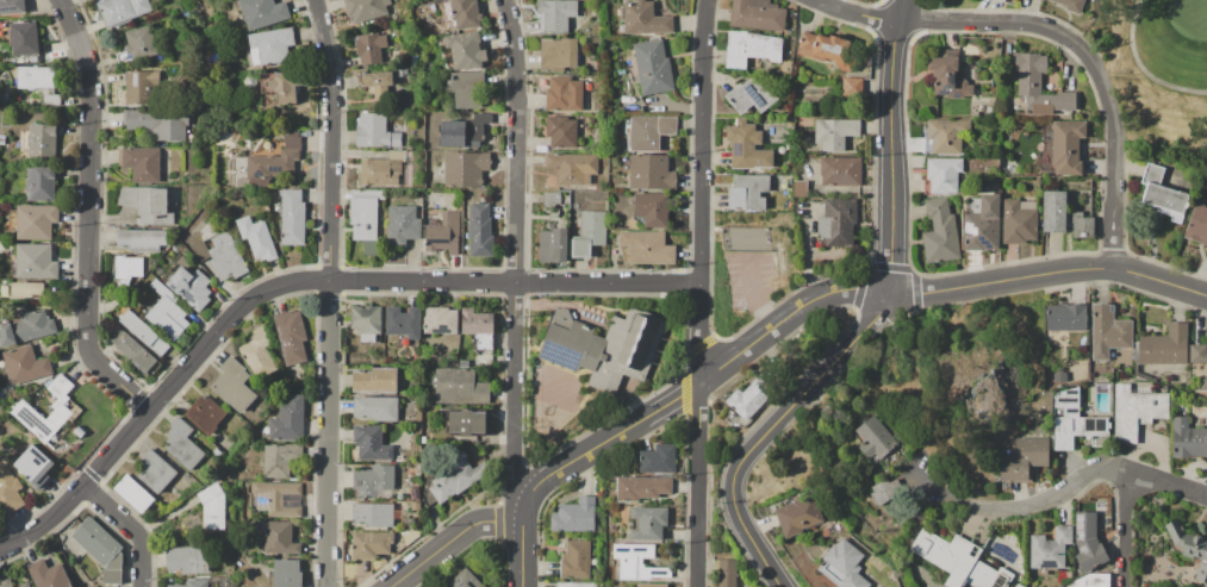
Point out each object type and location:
building: (1002, 0)
building: (1041, 0)
building: (1071, 5)
building: (11, 6)
building: (431, 7)
building: (365, 10)
road: (900, 10)
building: (120, 11)
building: (262, 12)
building: (186, 13)
building: (460, 13)
road: (854, 13)
building: (554, 14)
building: (757, 14)
building: (645, 18)
road: (994, 21)
building: (621, 29)
building: (24, 38)
building: (433, 42)
building: (136, 44)
building: (269, 45)
building: (369, 46)
building: (749, 49)
building: (827, 49)
building: (465, 50)
building: (971, 50)
building: (559, 54)
building: (211, 57)
building: (413, 57)
building: (428, 67)
building: (652, 67)
building: (783, 68)
building: (400, 73)
park: (1157, 73)
building: (947, 75)
building: (37, 76)
building: (991, 82)
building: (375, 83)
building: (1039, 86)
building: (141, 87)
building: (280, 87)
building: (851, 87)
building: (466, 88)
building: (564, 93)
building: (751, 95)
building: (405, 100)
building: (629, 102)
building: (973, 114)
building: (156, 123)
building: (463, 130)
building: (375, 131)
building: (560, 131)
building: (651, 132)
building: (834, 132)
building: (945, 135)
building: (805, 137)
building: (43, 140)
building: (747, 145)
building: (1062, 146)
road: (1113, 156)
building: (273, 158)
building: (141, 162)
building: (572, 167)
building: (465, 168)
building: (840, 170)
building: (379, 171)
building: (651, 171)
building: (941, 174)
building: (42, 183)
building: (800, 188)
building: (747, 192)
building: (1162, 194)
building: (550, 199)
building: (148, 204)
building: (651, 208)
building: (1053, 211)
road: (88, 213)
building: (292, 217)
building: (362, 218)
building: (1019, 220)
building: (36, 221)
building: (836, 221)
building: (981, 223)
building: (402, 224)
building: (1081, 224)
building: (1197, 224)
building: (480, 230)
building: (939, 231)
building: (443, 233)
building: (589, 233)
building: (746, 238)
building: (141, 239)
building: (256, 239)
building: (552, 244)
building: (374, 246)
building: (647, 246)
building: (220, 254)
road: (514, 256)
building: (36, 262)
building: (129, 267)
road: (1127, 270)
road: (294, 281)
road: (968, 285)
building: (192, 287)
building: (29, 291)
road: (326, 292)
road: (699, 293)
road: (759, 295)
building: (167, 312)
building: (1065, 316)
building: (441, 320)
building: (365, 321)
building: (477, 321)
building: (403, 324)
building: (27, 327)
road: (863, 329)
building: (1107, 331)
building: (144, 333)
building: (291, 336)
building: (481, 341)
building: (571, 342)
building: (1164, 345)
building: (627, 349)
building: (135, 352)
building: (257, 352)
building: (1197, 352)
building: (483, 357)
building: (468, 361)
building: (535, 362)
building: (24, 364)
building: (1077, 370)
building: (1059, 376)
building: (374, 380)
building: (1203, 382)
building: (234, 385)
building: (459, 386)
building: (268, 387)
building: (749, 396)
road: (666, 402)
building: (375, 407)
building: (1136, 407)
building: (24, 411)
building: (205, 414)
building: (288, 419)
building: (1075, 420)
building: (465, 421)
building: (266, 433)
building: (873, 437)
building: (1187, 438)
building: (462, 442)
building: (182, 443)
building: (371, 443)
building: (1032, 450)
building: (217, 452)
building: (398, 457)
building: (657, 458)
building: (285, 461)
building: (35, 467)
building: (1014, 469)
building: (155, 472)
building: (456, 476)
building: (374, 480)
building: (641, 487)
road: (1064, 488)
building: (885, 491)
building: (10, 492)
building: (413, 492)
building: (133, 493)
building: (278, 498)
building: (216, 506)
building: (397, 508)
building: (373, 514)
building: (574, 514)
building: (798, 516)
building: (647, 522)
building: (411, 523)
building: (1085, 524)
road: (129, 527)
road: (1124, 527)
building: (825, 532)
building: (1063, 533)
building: (834, 536)
building: (279, 537)
road: (452, 538)
building: (371, 544)
building: (1189, 547)
building: (101, 549)
building: (1089, 551)
building: (1045, 554)
building: (946, 555)
building: (188, 560)
building: (574, 560)
building: (238, 561)
building: (637, 563)
building: (842, 566)
building: (726, 573)
building: (49, 574)
building: (287, 574)
building: (1064, 574)
building: (987, 575)
building: (463, 579)
building: (1093, 580)
building: (6, 582)
building: (24, 585)
building: (574, 585)
building: (651, 585)
building: (1018, 585)
building: (179, 586)

